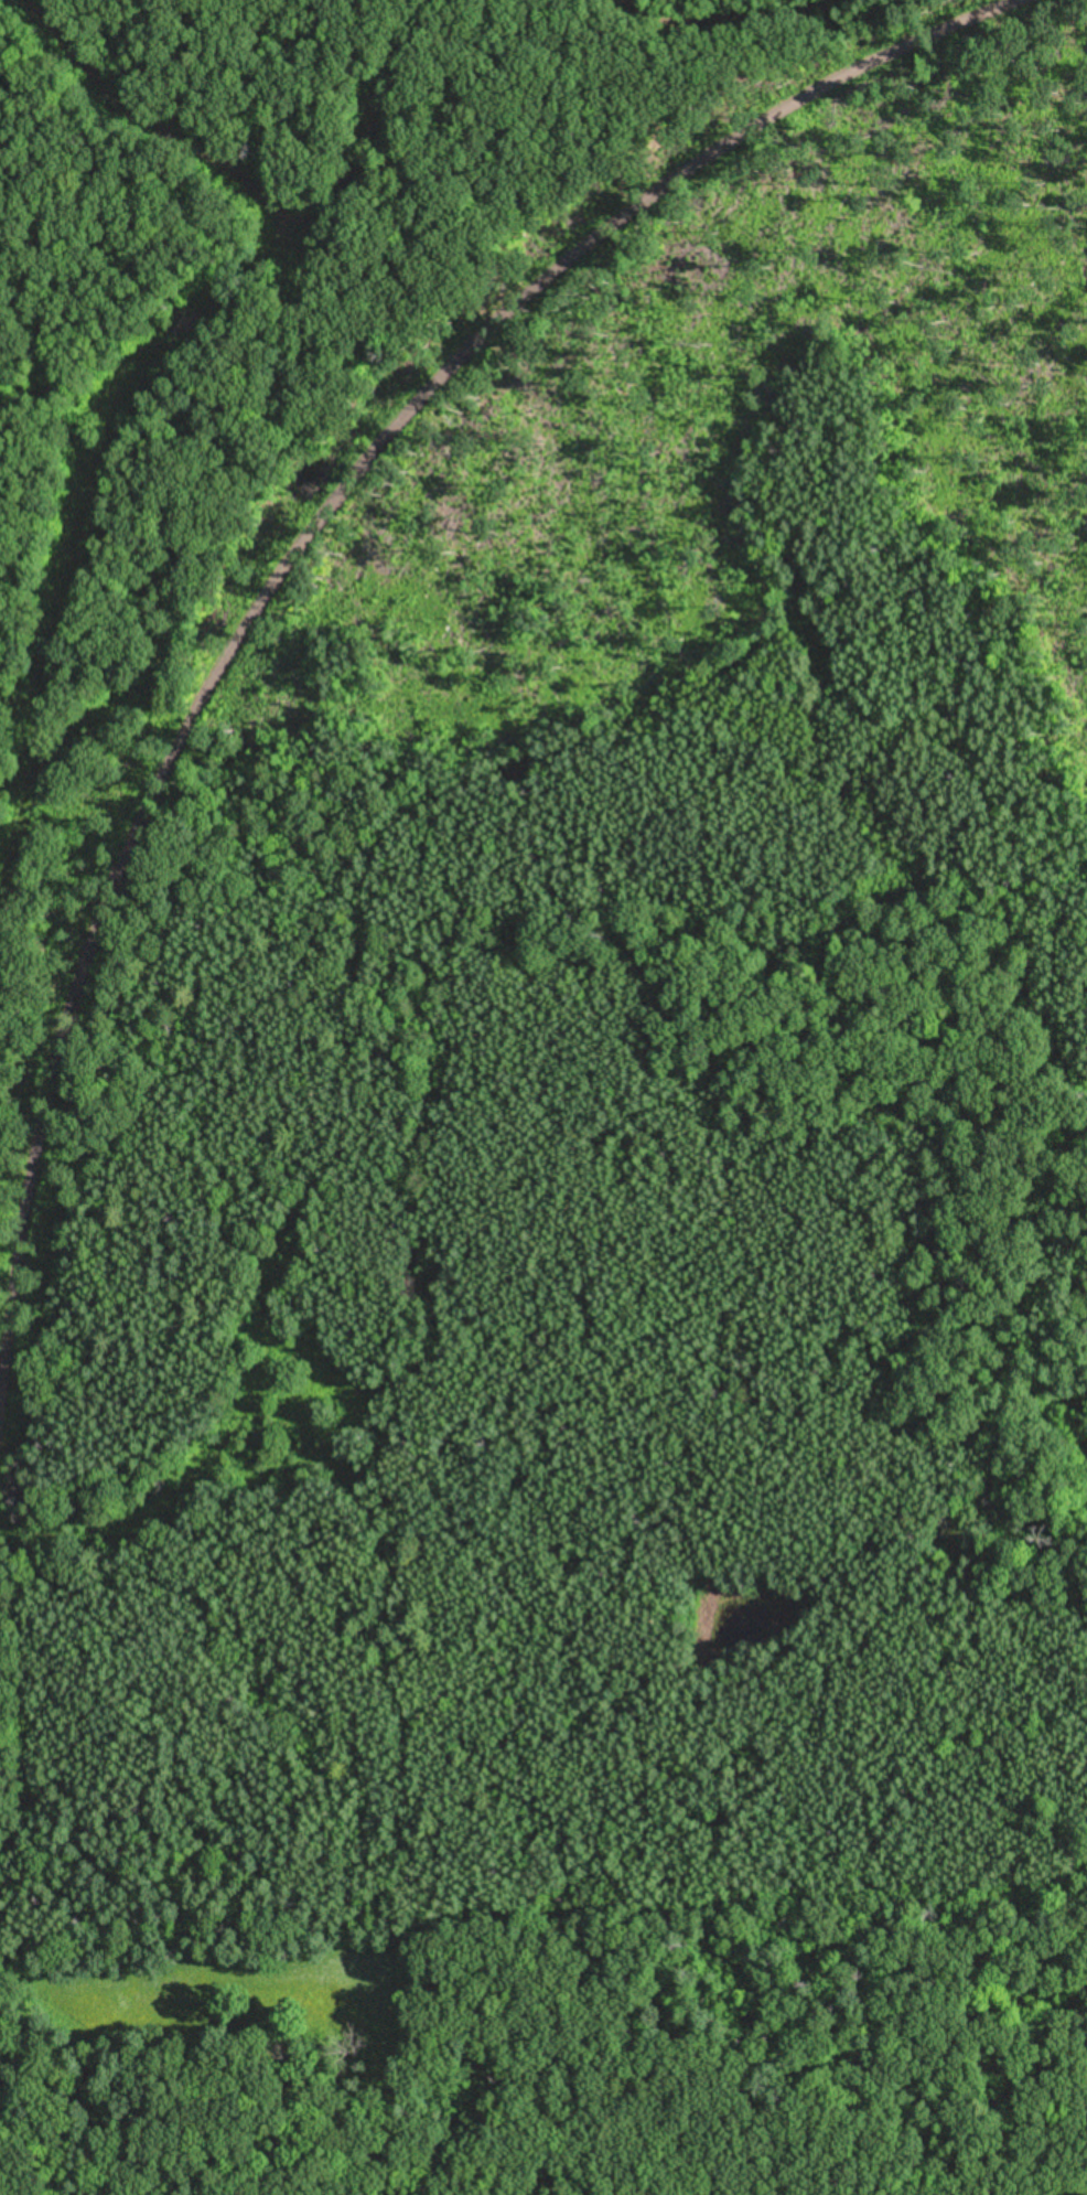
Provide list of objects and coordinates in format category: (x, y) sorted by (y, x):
road: (288, 565)

